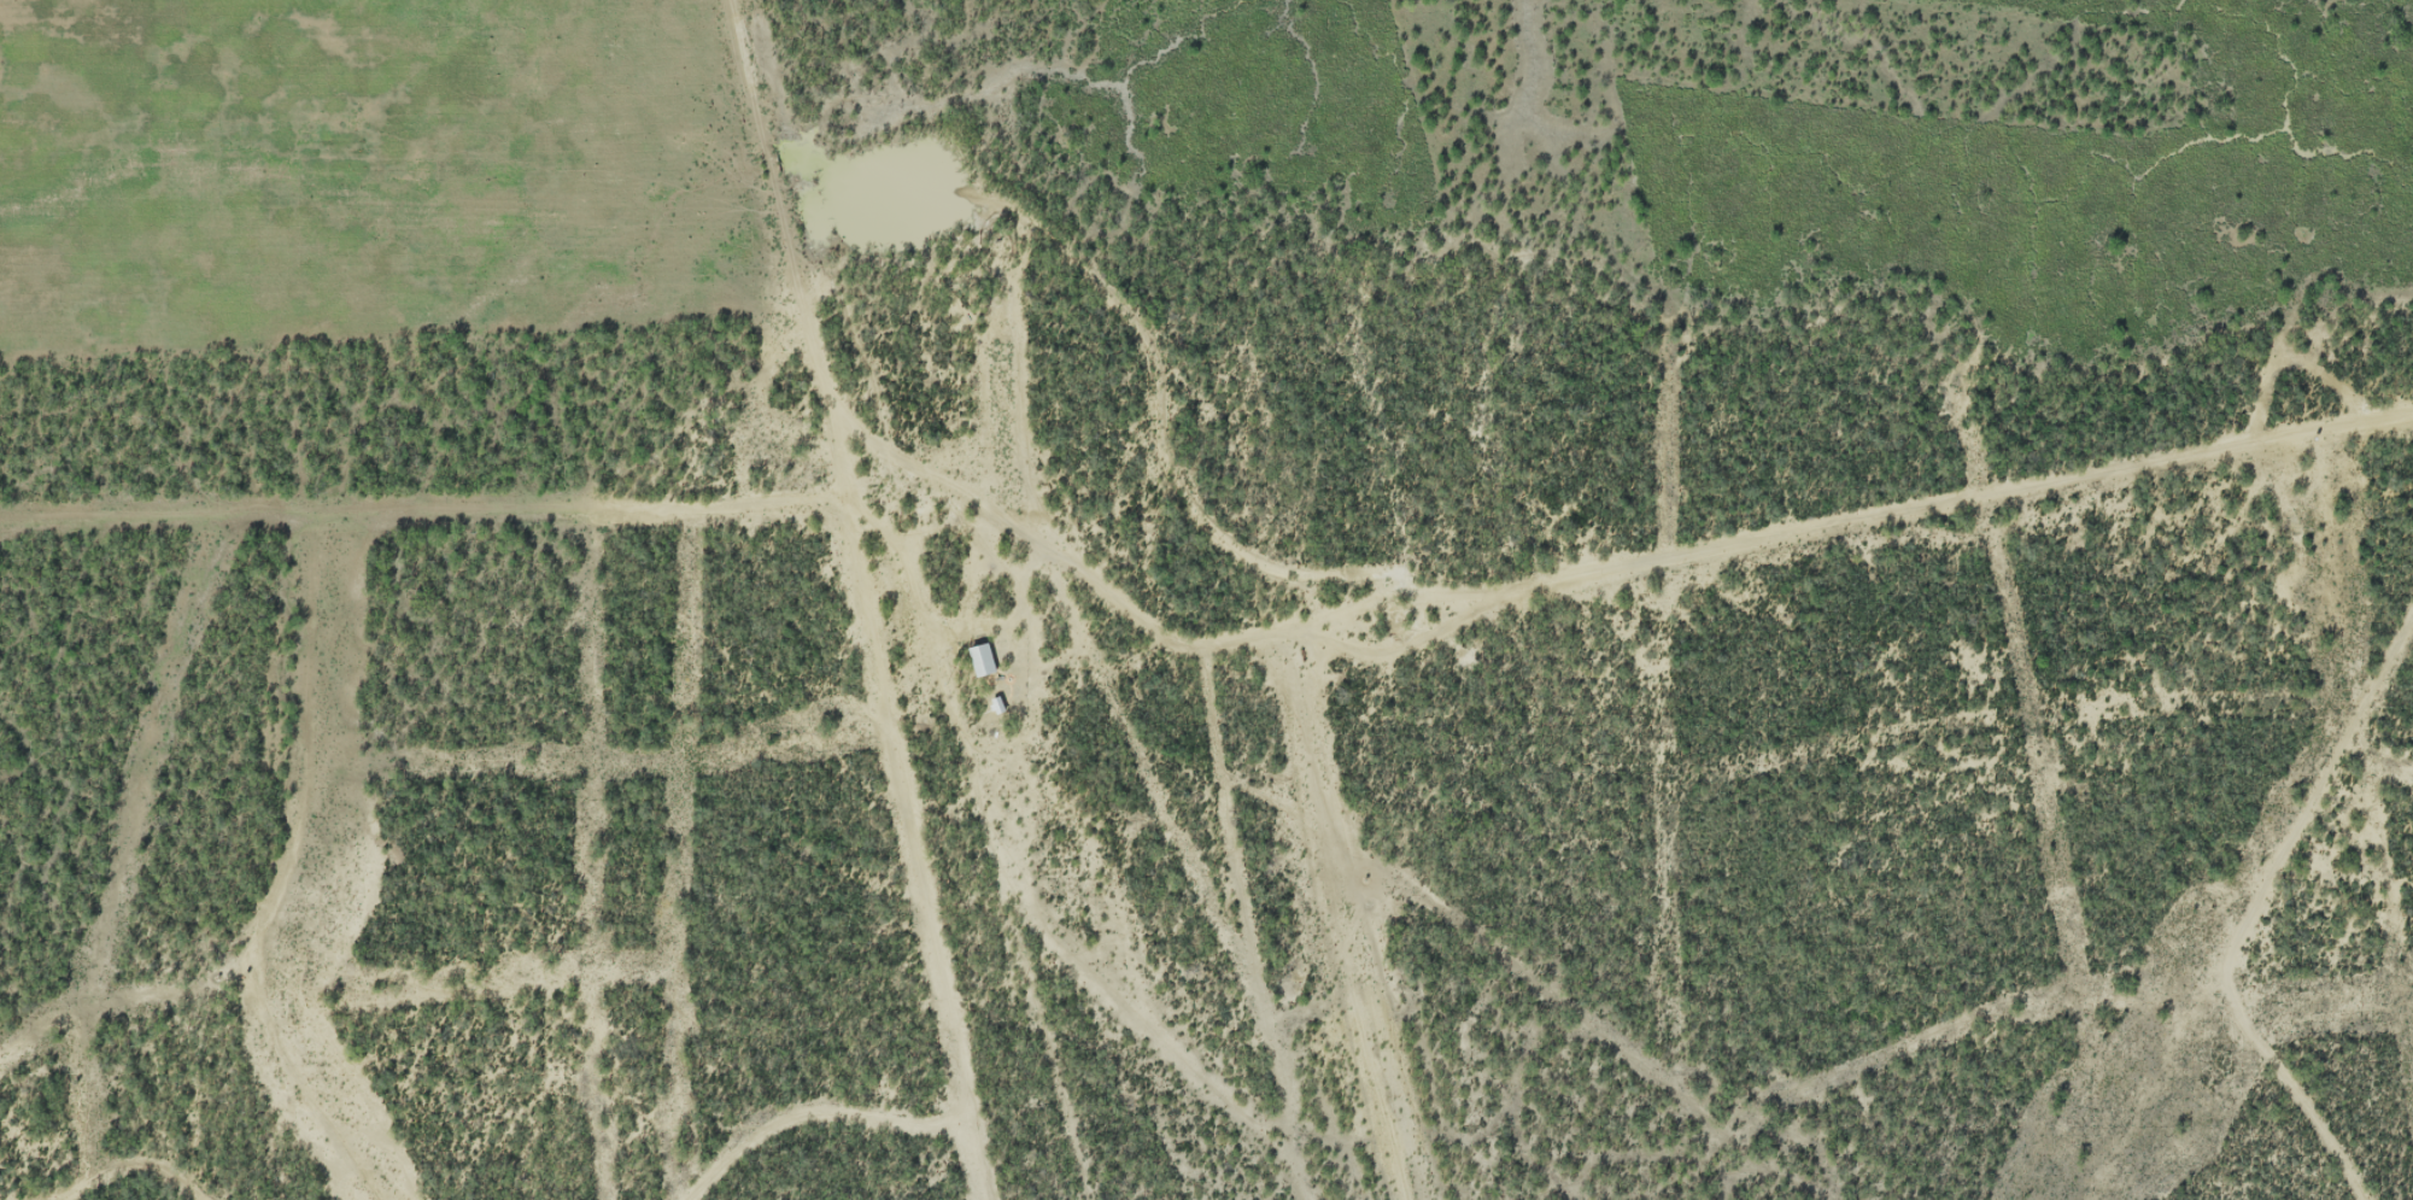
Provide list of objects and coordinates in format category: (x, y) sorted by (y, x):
road: (861, 598)
building: (983, 660)

